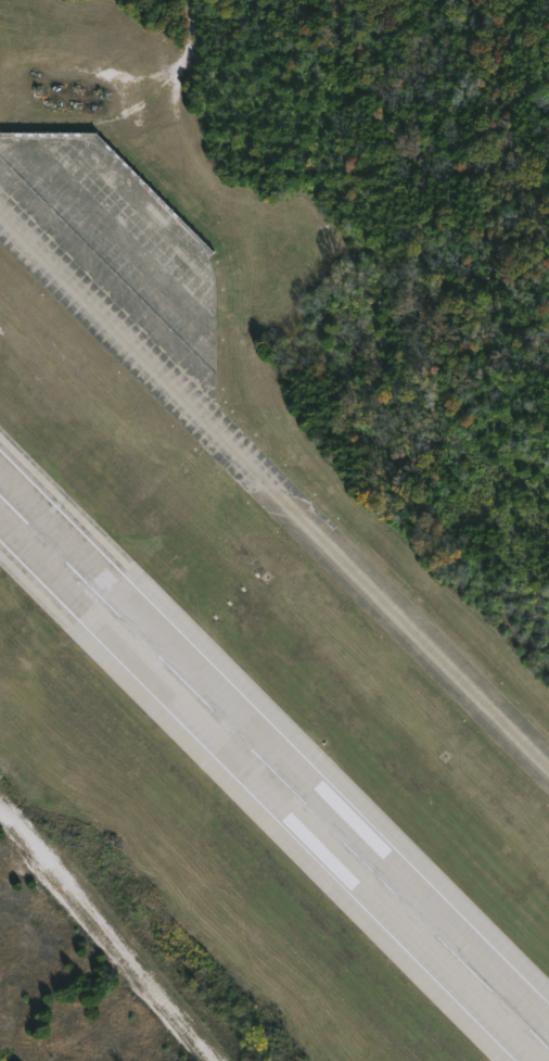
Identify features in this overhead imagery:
airport taxiway: (277, 494)
airport: (274, 530)
airport taxiway: (205, 560)
airport runway: (273, 768)

